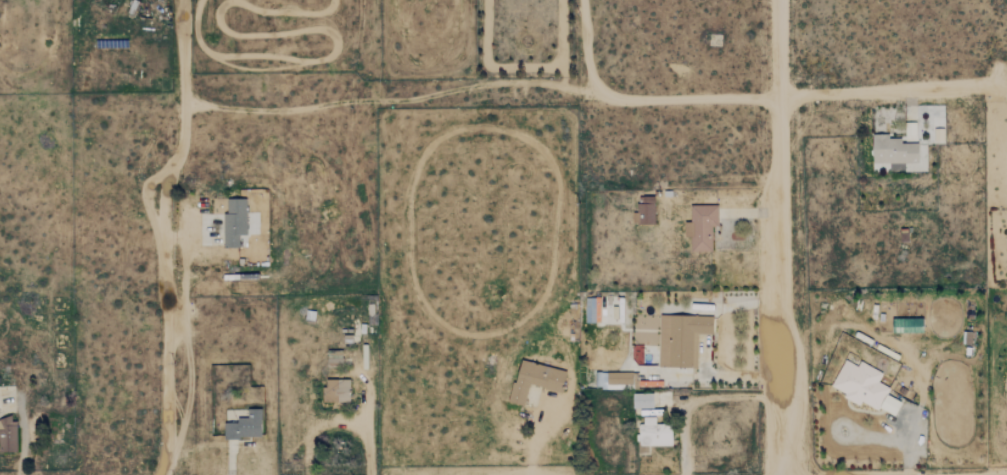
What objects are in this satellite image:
road: (182, 59)
road: (892, 91)
road: (642, 101)
building: (893, 151)
building: (644, 211)
building: (233, 221)
building: (700, 226)
road: (780, 237)
road: (166, 295)
building: (591, 309)
building: (906, 325)
building: (680, 339)
building: (534, 379)
building: (620, 379)
building: (864, 387)
building: (336, 390)
building: (642, 400)
road: (366, 408)
building: (244, 425)
road: (338, 425)
building: (654, 432)
building: (7, 434)
road: (545, 436)

